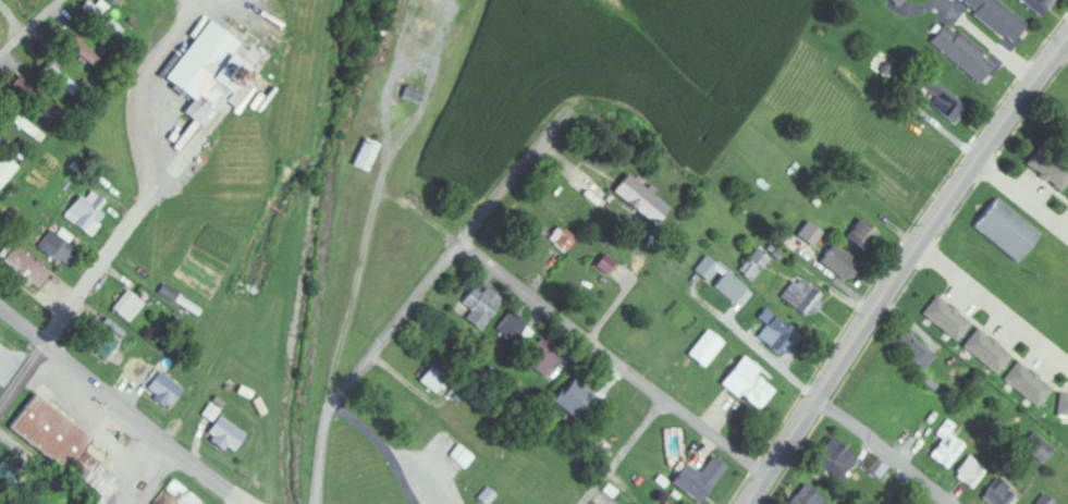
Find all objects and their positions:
building: (898, 2)
building: (1038, 5)
building: (102, 16)
road: (12, 17)
building: (997, 17)
road: (29, 26)
building: (82, 49)
building: (961, 52)
building: (212, 74)
building: (63, 81)
building: (21, 85)
building: (412, 95)
building: (943, 101)
building: (44, 103)
building: (27, 127)
building: (365, 156)
building: (5, 171)
building: (1057, 176)
building: (640, 200)
building: (86, 212)
building: (1006, 230)
building: (810, 234)
building: (862, 235)
building: (564, 239)
building: (58, 246)
building: (839, 263)
building: (604, 265)
building: (753, 265)
road: (903, 268)
building: (25, 269)
building: (724, 281)
road: (419, 298)
building: (801, 298)
building: (127, 306)
building: (482, 306)
road: (73, 307)
building: (946, 318)
building: (113, 327)
building: (515, 330)
building: (774, 333)
building: (102, 344)
building: (704, 349)
building: (913, 349)
building: (987, 352)
building: (541, 358)
road: (613, 361)
building: (136, 369)
building: (433, 379)
building: (746, 384)
building: (1028, 384)
building: (164, 390)
building: (575, 401)
road: (125, 405)
building: (1063, 406)
building: (211, 413)
building: (50, 433)
building: (225, 434)
building: (945, 446)
building: (1038, 447)
building: (600, 452)
road: (880, 452)
road: (625, 453)
building: (837, 457)
building: (970, 474)
building: (94, 475)
building: (9, 477)
building: (697, 480)
road: (897, 489)
building: (999, 494)
building: (806, 497)
building: (1045, 500)
road: (250, 503)
building: (666, 503)

